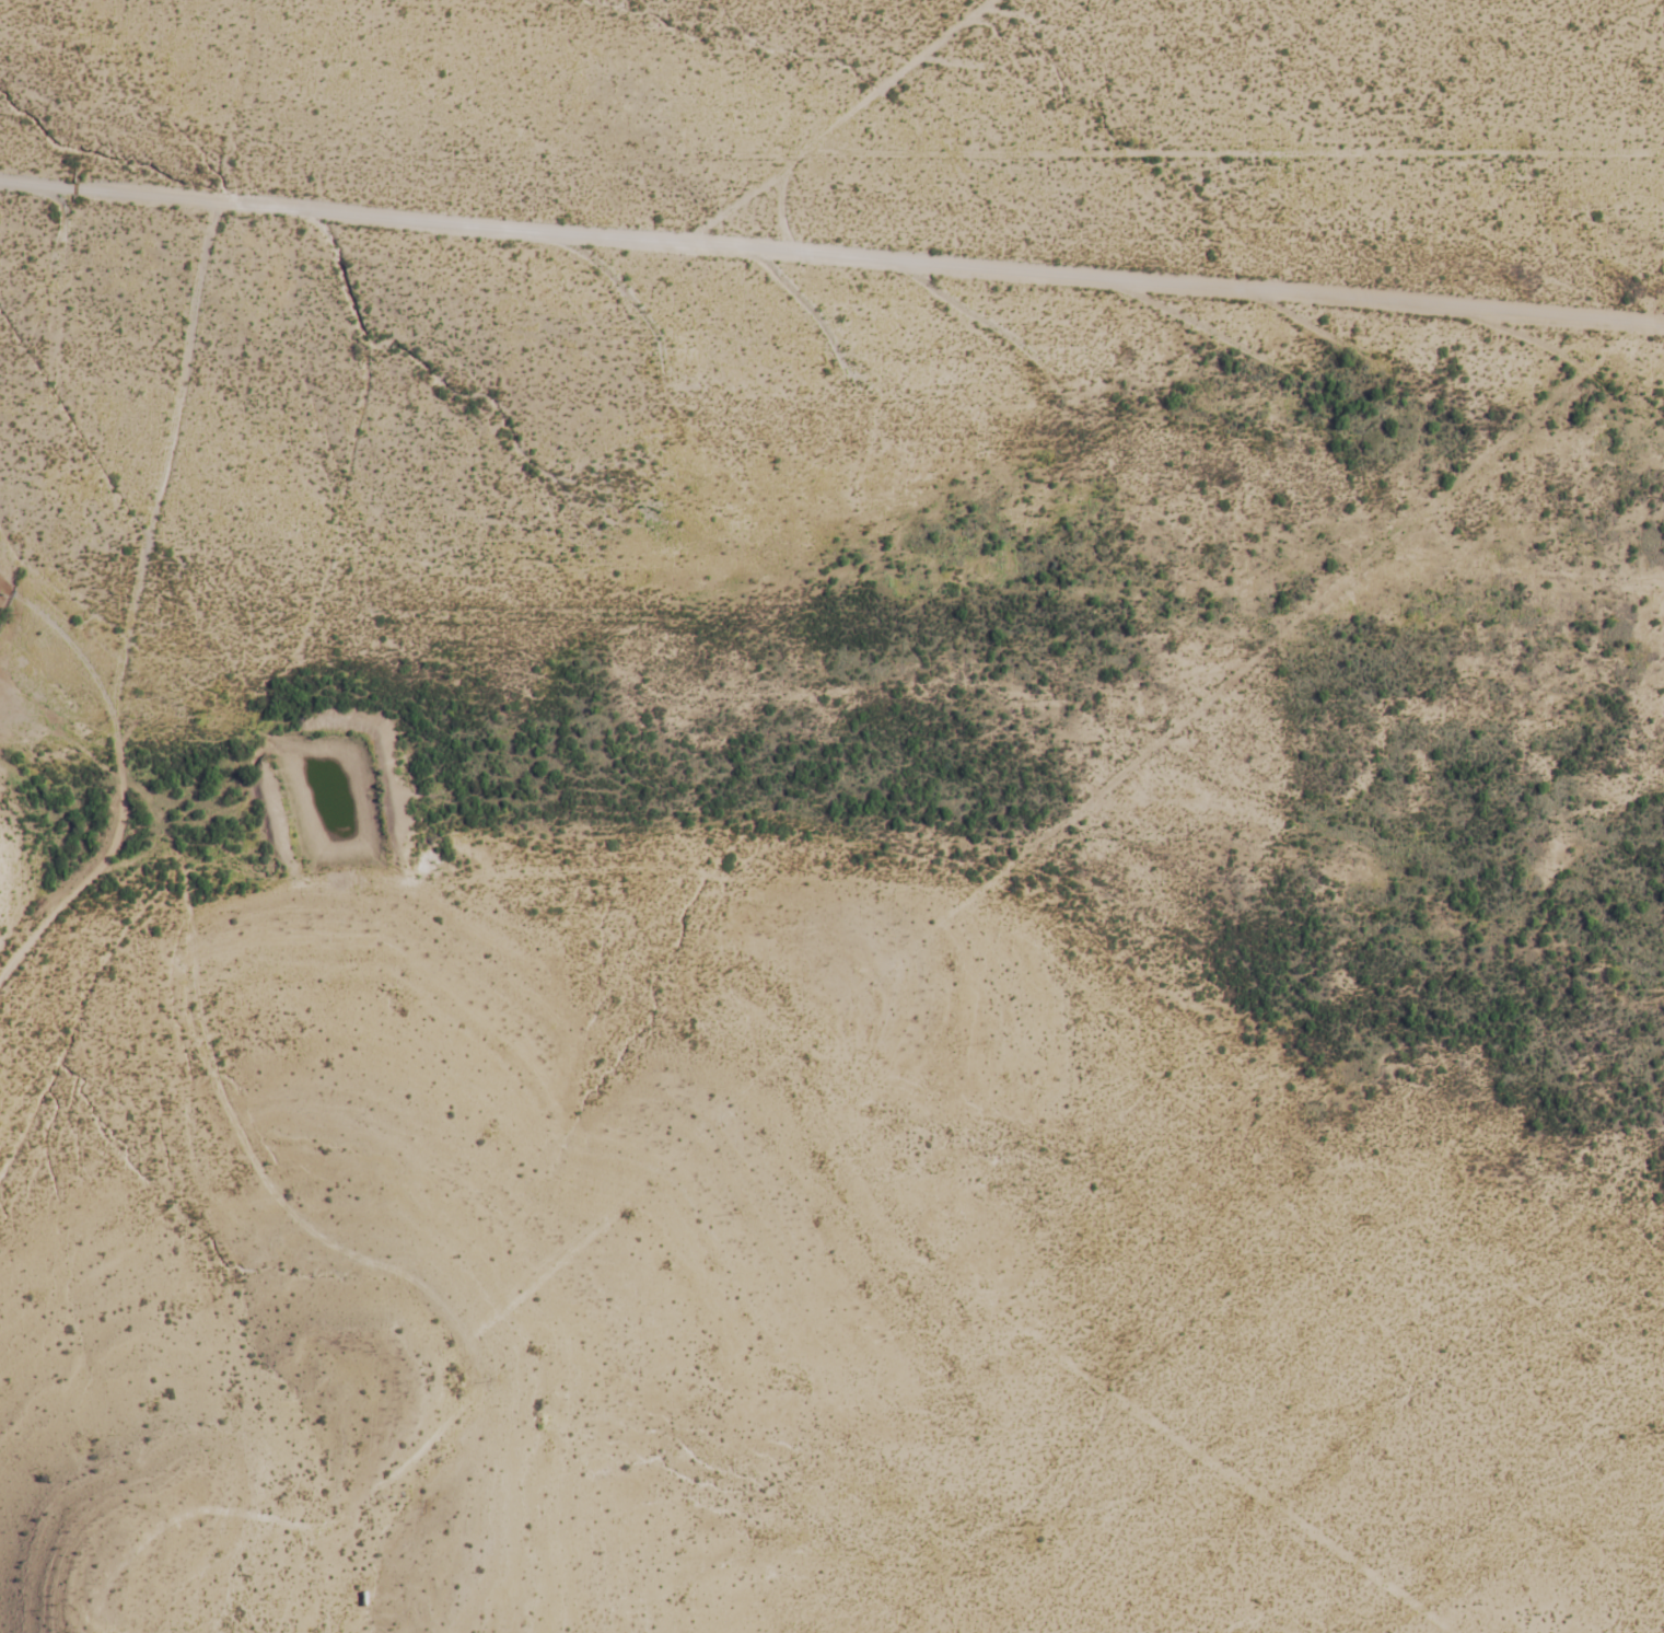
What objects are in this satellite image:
road: (835, 121)
road: (782, 219)
road: (831, 256)
road: (129, 605)
road: (226, 1054)

